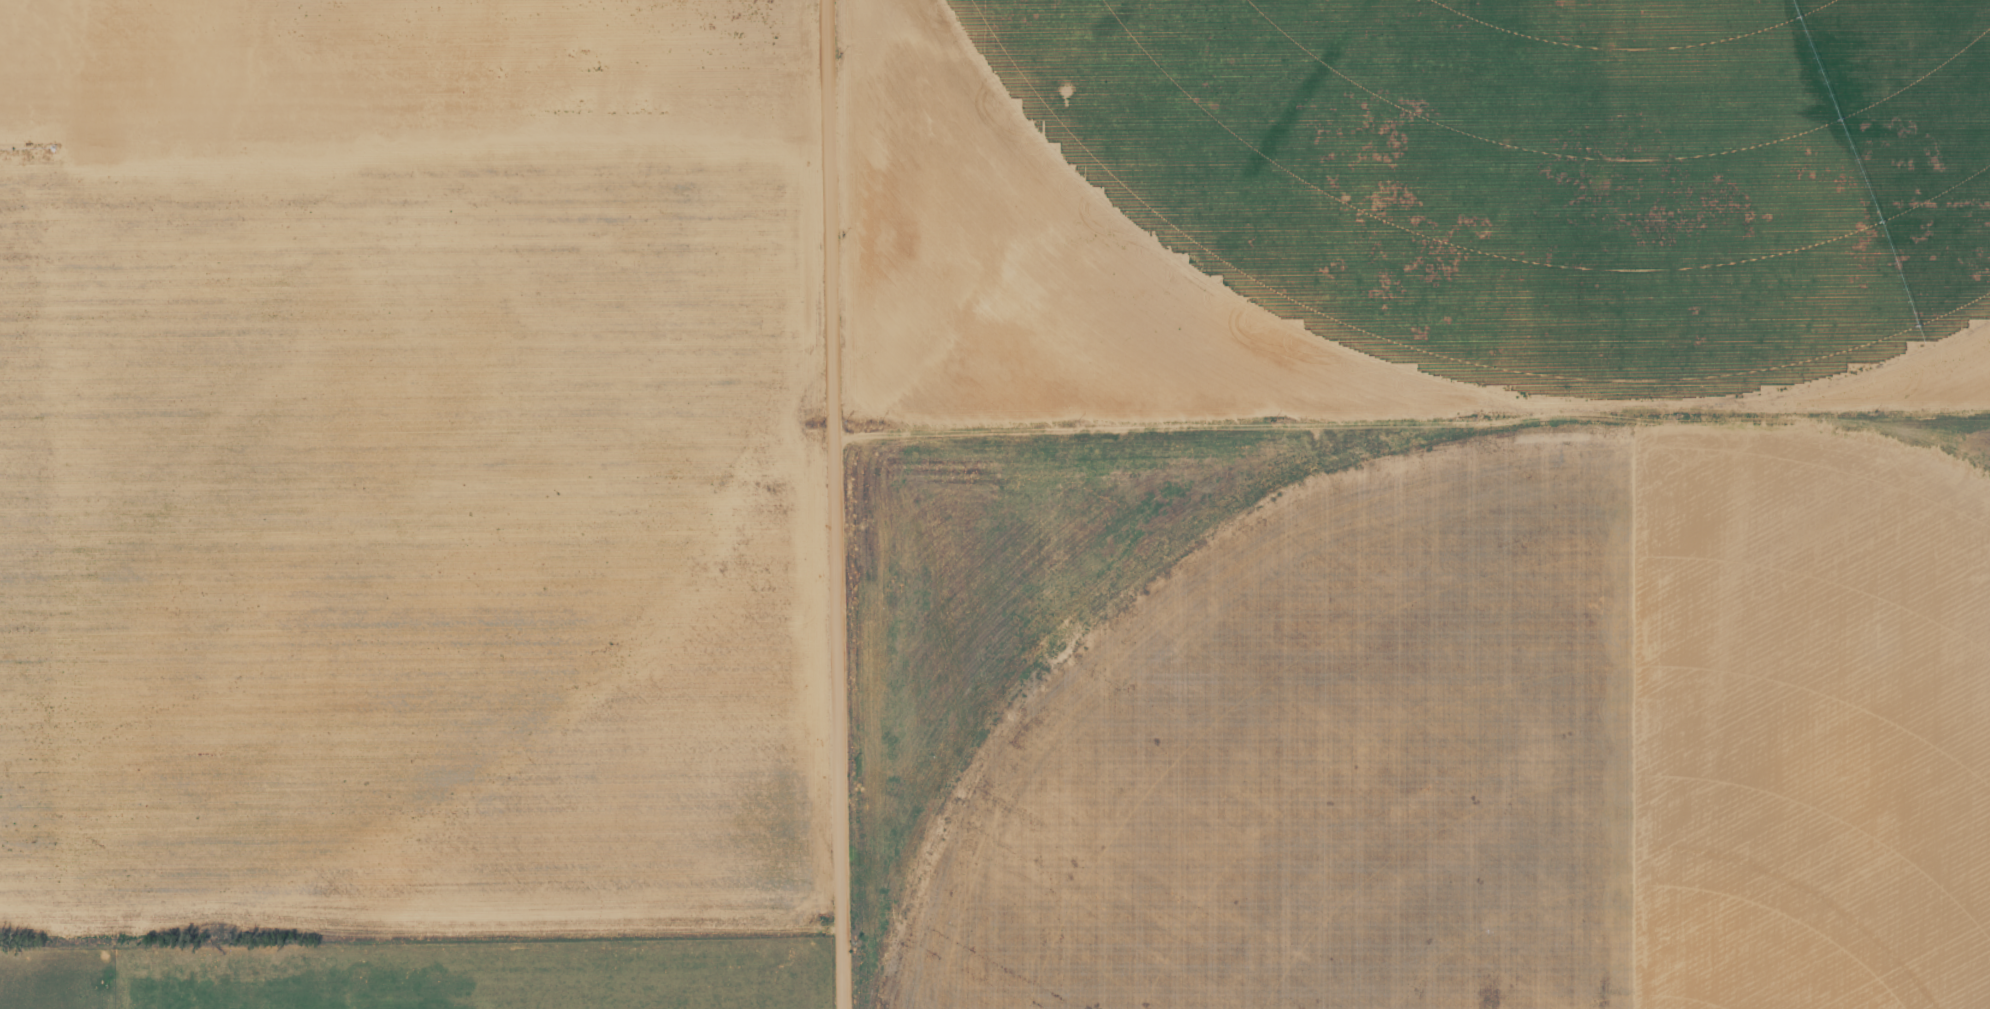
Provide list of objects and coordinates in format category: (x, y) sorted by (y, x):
road: (1464, 219)
road: (1421, 438)
road: (853, 502)

